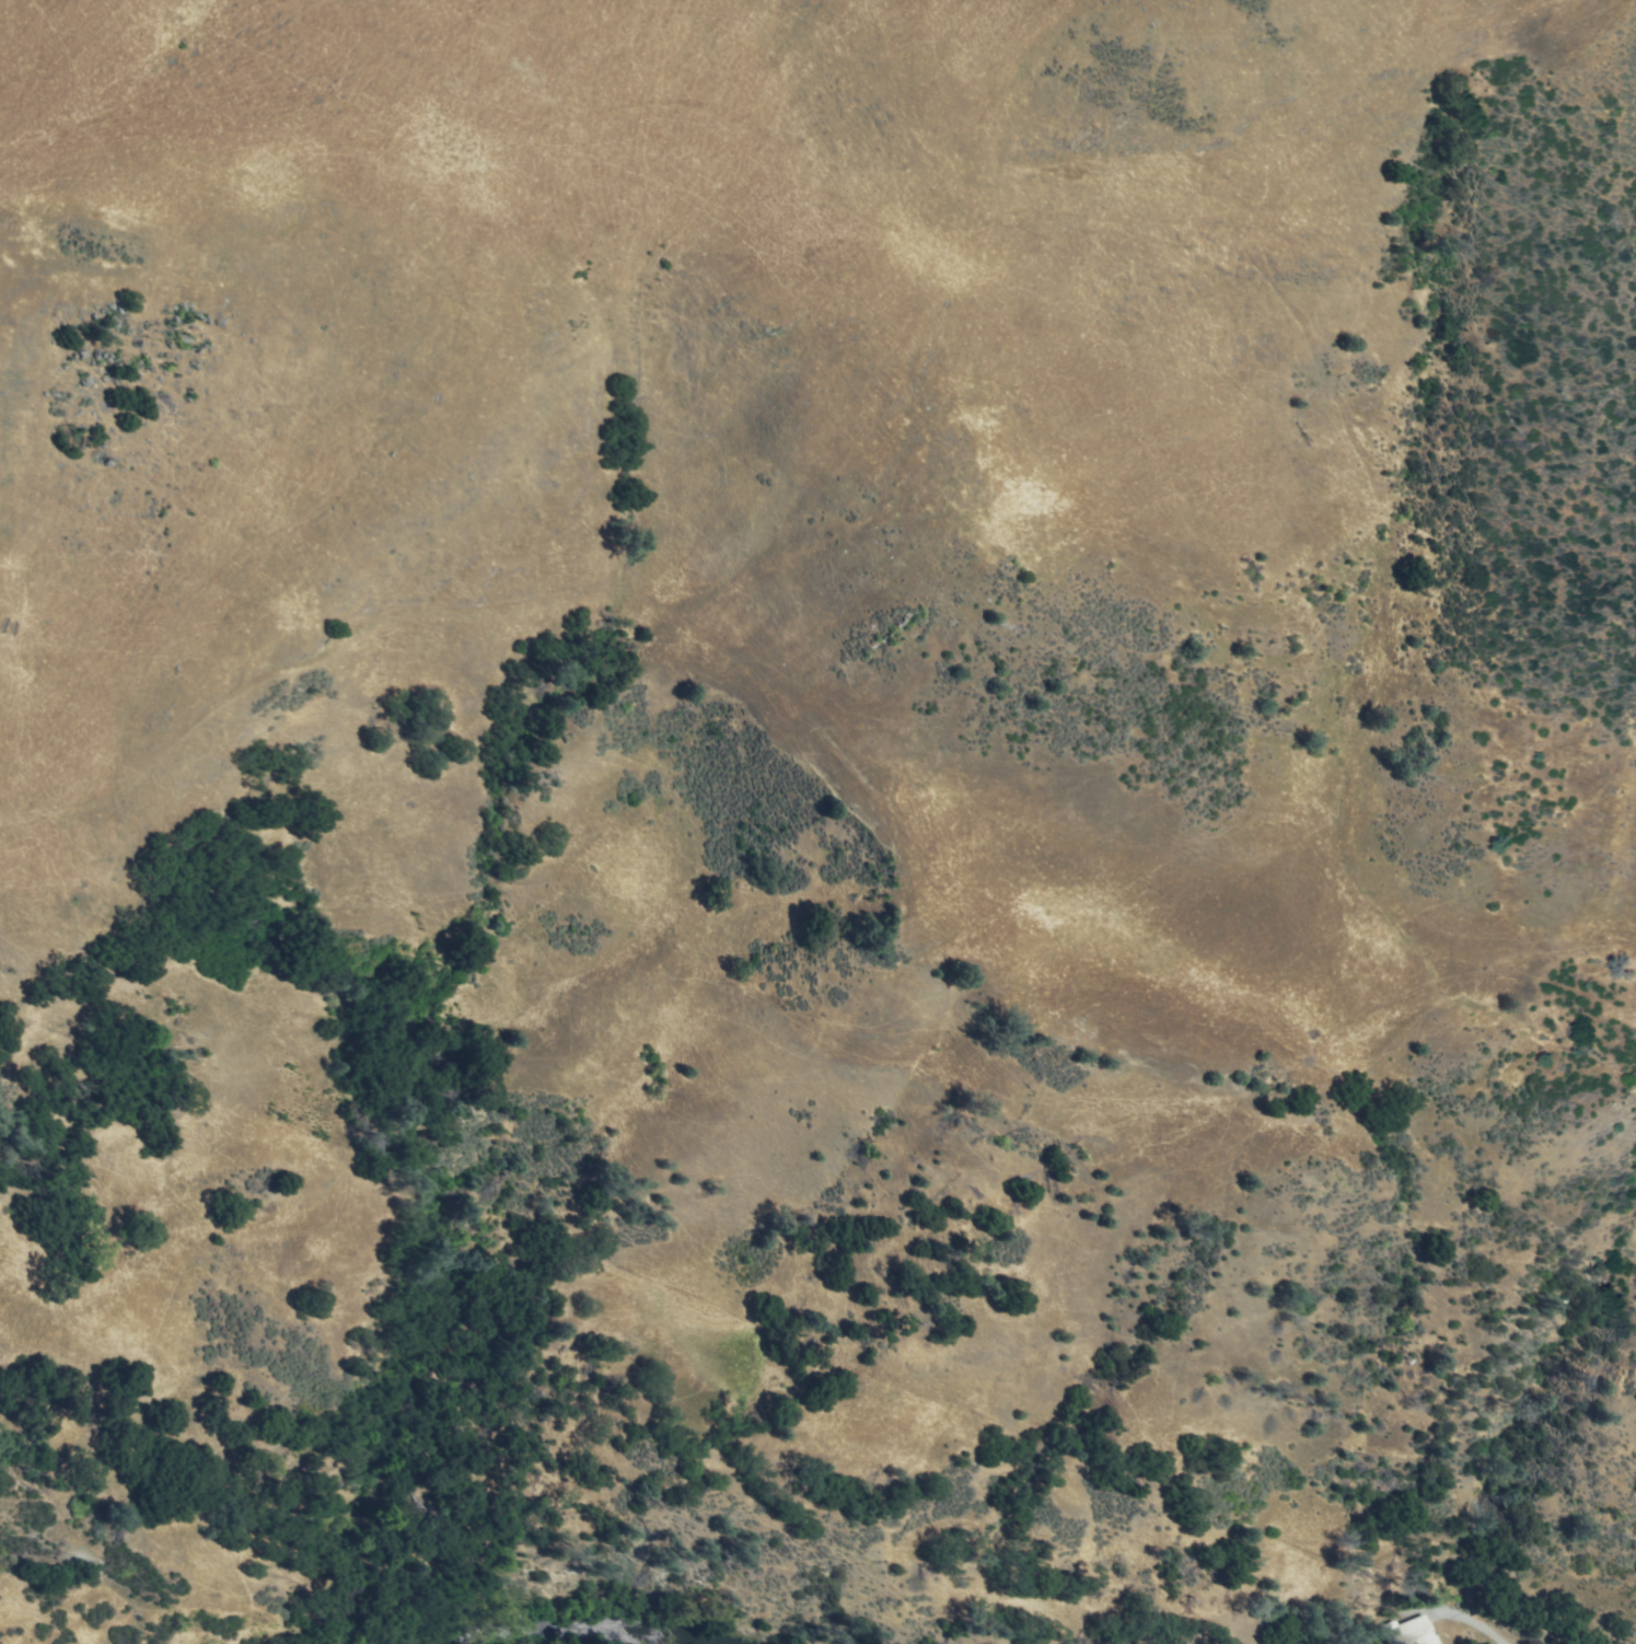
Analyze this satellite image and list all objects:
road: (1478, 1624)
building: (1406, 1631)

